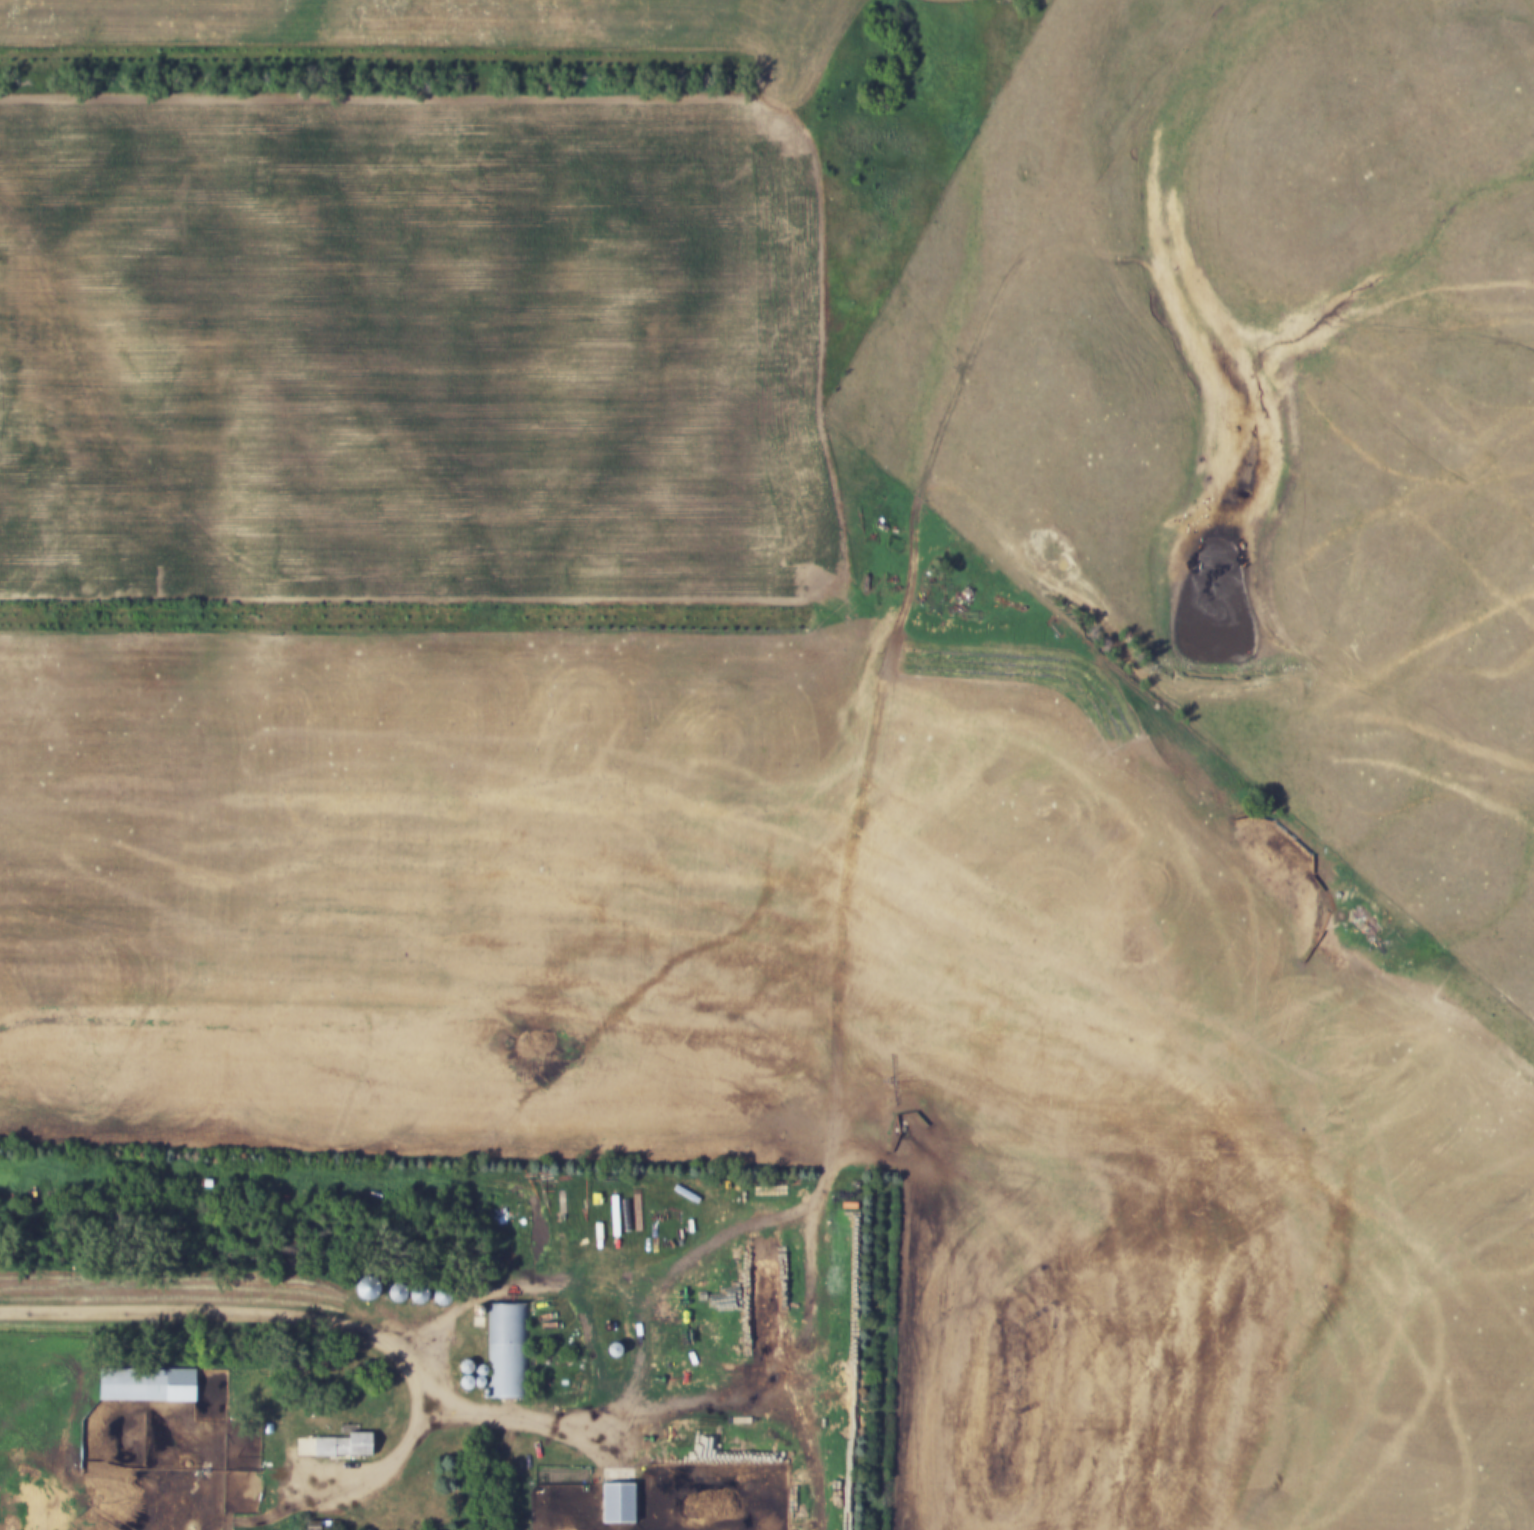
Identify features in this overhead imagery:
road: (859, 911)
road: (941, 1090)
road: (320, 1319)
building: (503, 1324)
building: (147, 1386)
road: (514, 1410)
building: (347, 1445)
building: (617, 1505)

